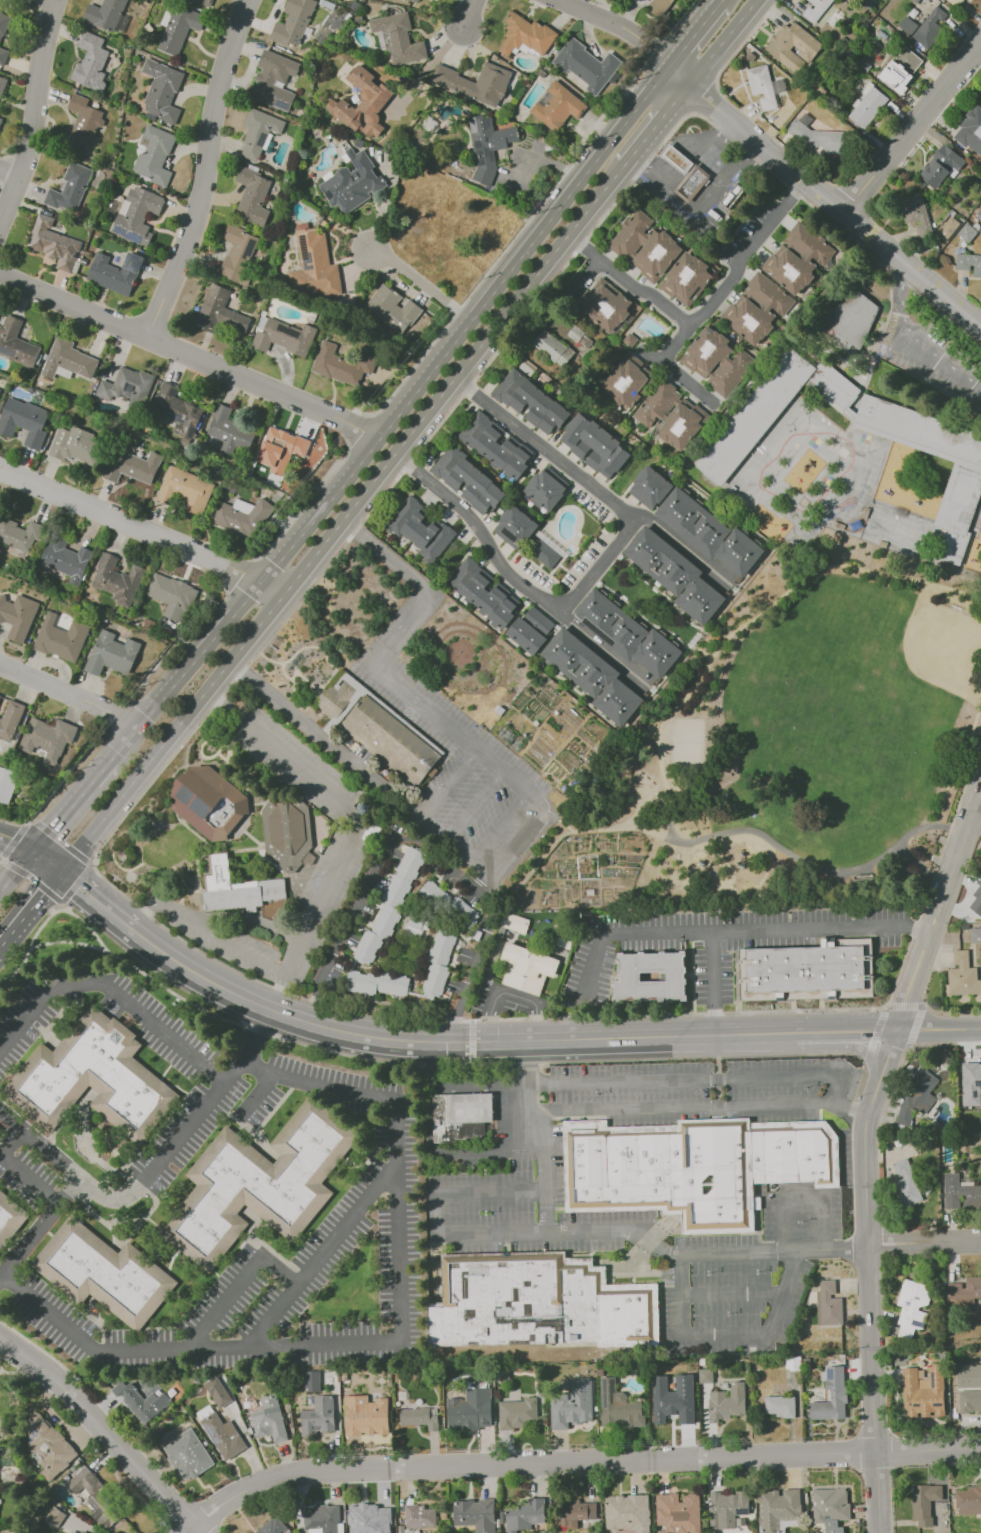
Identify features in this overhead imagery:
building: (970, 0)
building: (411, 1)
building: (204, 2)
building: (955, 2)
building: (660, 5)
building: (815, 9)
building: (104, 14)
road: (477, 16)
building: (3, 23)
building: (293, 23)
building: (907, 25)
building: (930, 28)
road: (630, 31)
road: (694, 31)
building: (525, 35)
building: (399, 37)
road: (722, 41)
road: (737, 46)
building: (792, 46)
building: (3, 55)
building: (90, 62)
building: (587, 65)
road: (427, 67)
building: (900, 69)
building: (274, 80)
building: (475, 82)
building: (2, 83)
building: (764, 86)
building: (161, 91)
building: (361, 103)
rooftop solar panel: (281, 104)
building: (557, 106)
road: (713, 106)
building: (866, 106)
building: (0, 120)
road: (657, 122)
building: (82, 123)
road: (25, 124)
rooftop solar panel: (486, 125)
rooftop solar panel: (472, 126)
building: (971, 131)
building: (258, 133)
rooftop solar panel: (261, 139)
rooftop solar panel: (510, 139)
building: (821, 140)
road: (919, 141)
rooftop solar panel: (477, 144)
building: (487, 144)
rooftop solar panel: (498, 144)
rooftop solar panel: (504, 145)
rooftop solar panel: (479, 152)
rooftop solar panel: (487, 153)
building: (154, 156)
building: (676, 159)
rooftop solar panel: (480, 161)
rooftop solar panel: (356, 162)
building: (940, 166)
road: (205, 169)
road: (6, 176)
building: (352, 182)
building: (691, 183)
building: (69, 189)
rooftop solar panel: (322, 189)
road: (570, 192)
rooftop solar panel: (329, 194)
rooftop solar panel: (342, 196)
building: (252, 197)
road: (835, 202)
rooftop solar panel: (341, 204)
building: (915, 213)
building: (137, 215)
rooftop solar panel: (116, 229)
rooftop solar panel: (122, 230)
rooftop solar panel: (131, 237)
building: (53, 243)
rooftop solar panel: (251, 244)
rooftop solar panel: (302, 245)
building: (644, 246)
building: (238, 253)
rooftop solar panel: (134, 256)
building: (797, 258)
rooftop solar panel: (125, 260)
rooftop solar panel: (305, 262)
building: (969, 263)
rooftop solar panel: (139, 264)
building: (313, 264)
rooftop solar panel: (130, 268)
road: (736, 268)
building: (114, 272)
road: (591, 276)
building: (686, 279)
road: (630, 281)
road: (423, 284)
building: (606, 305)
building: (392, 308)
building: (756, 308)
building: (219, 312)
building: (849, 321)
rooftop solar panel: (288, 330)
building: (282, 336)
road: (914, 339)
building: (16, 342)
building: (552, 347)
road: (186, 350)
parking lot: (933, 356)
building: (68, 359)
building: (716, 361)
building: (341, 364)
road: (454, 376)
road: (424, 378)
road: (692, 380)
building: (627, 381)
building: (125, 384)
building: (530, 401)
building: (177, 410)
building: (671, 415)
building: (23, 421)
building: (229, 430)
building: (75, 445)
building: (495, 445)
building: (594, 446)
building: (280, 449)
building: (956, 455)
building: (131, 466)
building: (467, 479)
building: (650, 488)
building: (184, 489)
building: (546, 489)
road: (320, 508)
road: (130, 524)
building: (515, 526)
building: (420, 529)
building: (709, 533)
park: (911, 534)
building: (19, 535)
road: (683, 544)
building: (543, 552)
building: (65, 558)
road: (594, 568)
building: (675, 575)
building: (116, 580)
road: (417, 581)
road: (273, 585)
building: (484, 592)
building: (171, 596)
building: (17, 616)
road: (754, 617)
road: (223, 624)
building: (530, 631)
building: (626, 634)
building: (61, 638)
road: (603, 649)
park: (918, 652)
building: (111, 653)
building: (592, 676)
road: (69, 693)
building: (0, 695)
road: (162, 695)
road: (435, 717)
building: (10, 719)
building: (380, 727)
road: (174, 730)
road: (127, 737)
building: (47, 738)
road: (328, 738)
park: (799, 740)
park: (687, 742)
parking lot: (457, 768)
road: (450, 783)
building: (6, 785)
rooftop solar panel: (183, 794)
road: (74, 801)
building: (214, 805)
road: (477, 805)
rooftop solar panel: (198, 806)
road: (975, 813)
road: (29, 822)
road: (354, 823)
road: (502, 826)
road: (605, 826)
road: (438, 828)
building: (290, 833)
road: (13, 840)
road: (523, 841)
road: (15, 843)
road: (61, 843)
road: (422, 844)
traffic signals: (32, 851)
road: (1, 859)
road: (47, 860)
road: (1, 862)
parking lot: (340, 864)
road: (531, 867)
road: (811, 868)
road: (921, 868)
traffic signals: (62, 869)
road: (16, 870)
road: (33, 880)
road: (489, 881)
road: (75, 883)
building: (236, 889)
road: (97, 897)
building: (976, 897)
road: (58, 904)
building: (449, 905)
road: (31, 907)
building: (388, 908)
road: (248, 917)
building: (519, 922)
road: (922, 928)
road: (205, 930)
road: (723, 930)
building: (975, 935)
road: (65, 942)
building: (567, 943)
building: (438, 962)
road: (715, 967)
building: (532, 969)
building: (814, 973)
building: (962, 975)
building: (655, 979)
building: (376, 983)
road: (114, 993)
road: (508, 994)
road: (204, 1009)
road: (716, 1020)
road: (942, 1030)
road: (849, 1033)
road: (471, 1042)
road: (450, 1043)
building: (95, 1080)
road: (658, 1081)
building: (970, 1083)
road: (256, 1094)
building: (916, 1097)
road: (701, 1107)
building: (463, 1118)
building: (0, 1130)
road: (540, 1138)
road: (872, 1148)
road: (493, 1152)
road: (156, 1167)
building: (697, 1168)
road: (18, 1171)
building: (262, 1184)
building: (905, 1184)
road: (803, 1195)
building: (11, 1220)
road: (42, 1230)
road: (578, 1234)
road: (887, 1238)
road: (941, 1241)
road: (887, 1247)
road: (322, 1257)
building: (106, 1274)
road: (1, 1280)
road: (1, 1281)
road: (236, 1287)
building: (965, 1289)
road: (734, 1295)
rooftop solar panel: (917, 1297)
building: (829, 1303)
rooftop solar panel: (908, 1303)
building: (544, 1306)
building: (911, 1307)
rooftop solar panel: (915, 1324)
road: (731, 1336)
road: (394, 1346)
rooftop solar panel: (831, 1373)
building: (704, 1375)
building: (968, 1375)
building: (311, 1380)
rooftop solar panel: (604, 1385)
rooftop solar panel: (611, 1388)
building: (217, 1392)
building: (923, 1392)
building: (832, 1397)
rooftop solar panel: (604, 1400)
building: (143, 1401)
building: (969, 1401)
building: (730, 1402)
building: (572, 1405)
building: (617, 1405)
building: (780, 1405)
building: (671, 1409)
building: (518, 1414)
building: (319, 1415)
building: (367, 1415)
building: (465, 1416)
building: (415, 1417)
building: (268, 1418)
road: (105, 1431)
rooftop solar panel: (211, 1436)
building: (222, 1436)
rooftop solar panel: (30, 1439)
building: (47, 1443)
building: (188, 1455)
road: (579, 1461)
building: (968, 1500)
building: (100, 1503)
building: (924, 1503)
building: (831, 1505)
building: (728, 1508)
building: (779, 1509)
building: (577, 1510)
building: (628, 1512)
building: (679, 1513)
building: (475, 1515)
building: (526, 1515)
building: (54, 1516)
building: (419, 1516)
building: (323, 1519)
building: (373, 1520)
building: (272, 1526)
road: (189, 1529)
building: (71, 1532)

